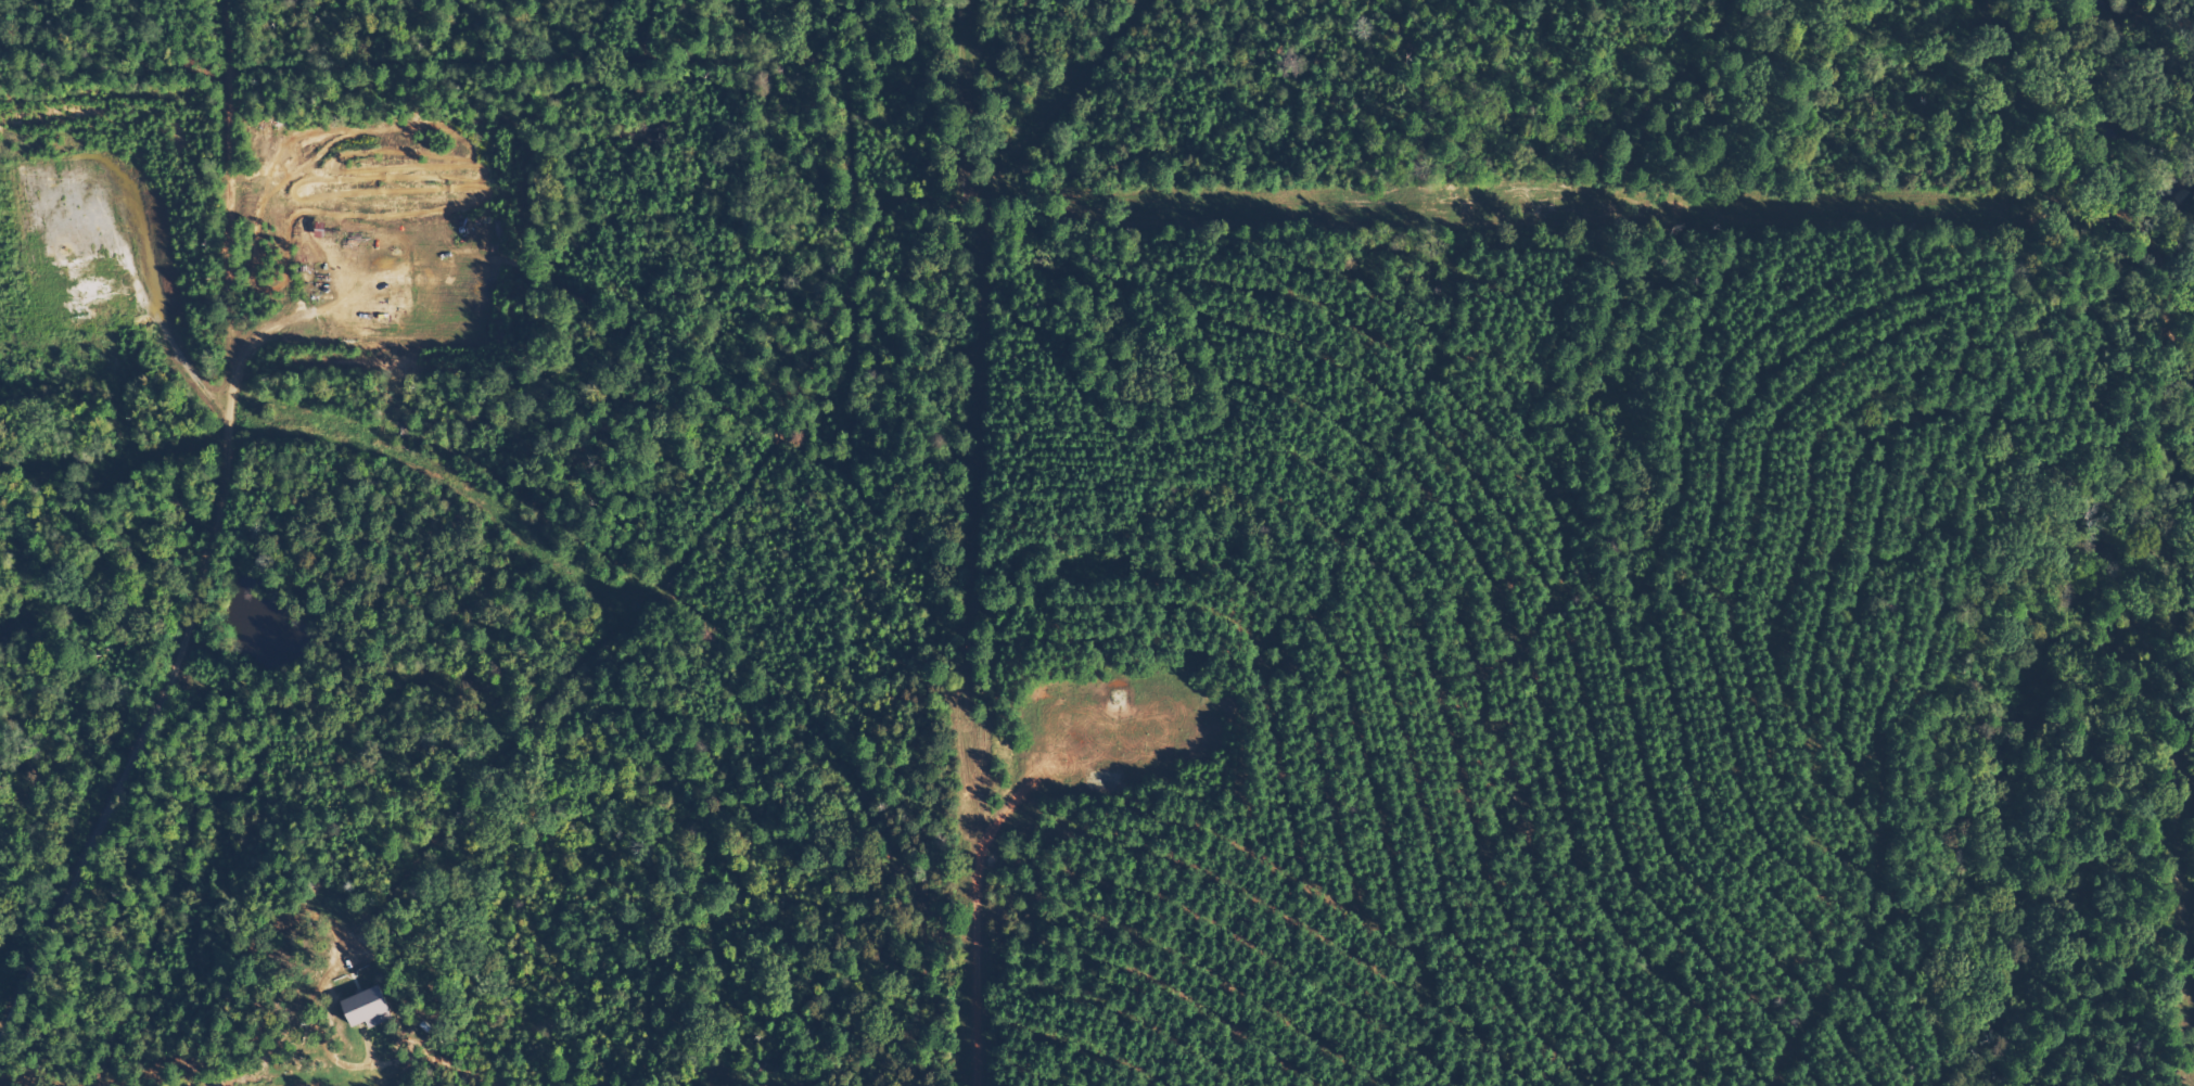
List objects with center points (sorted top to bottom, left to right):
building: (367, 1009)

